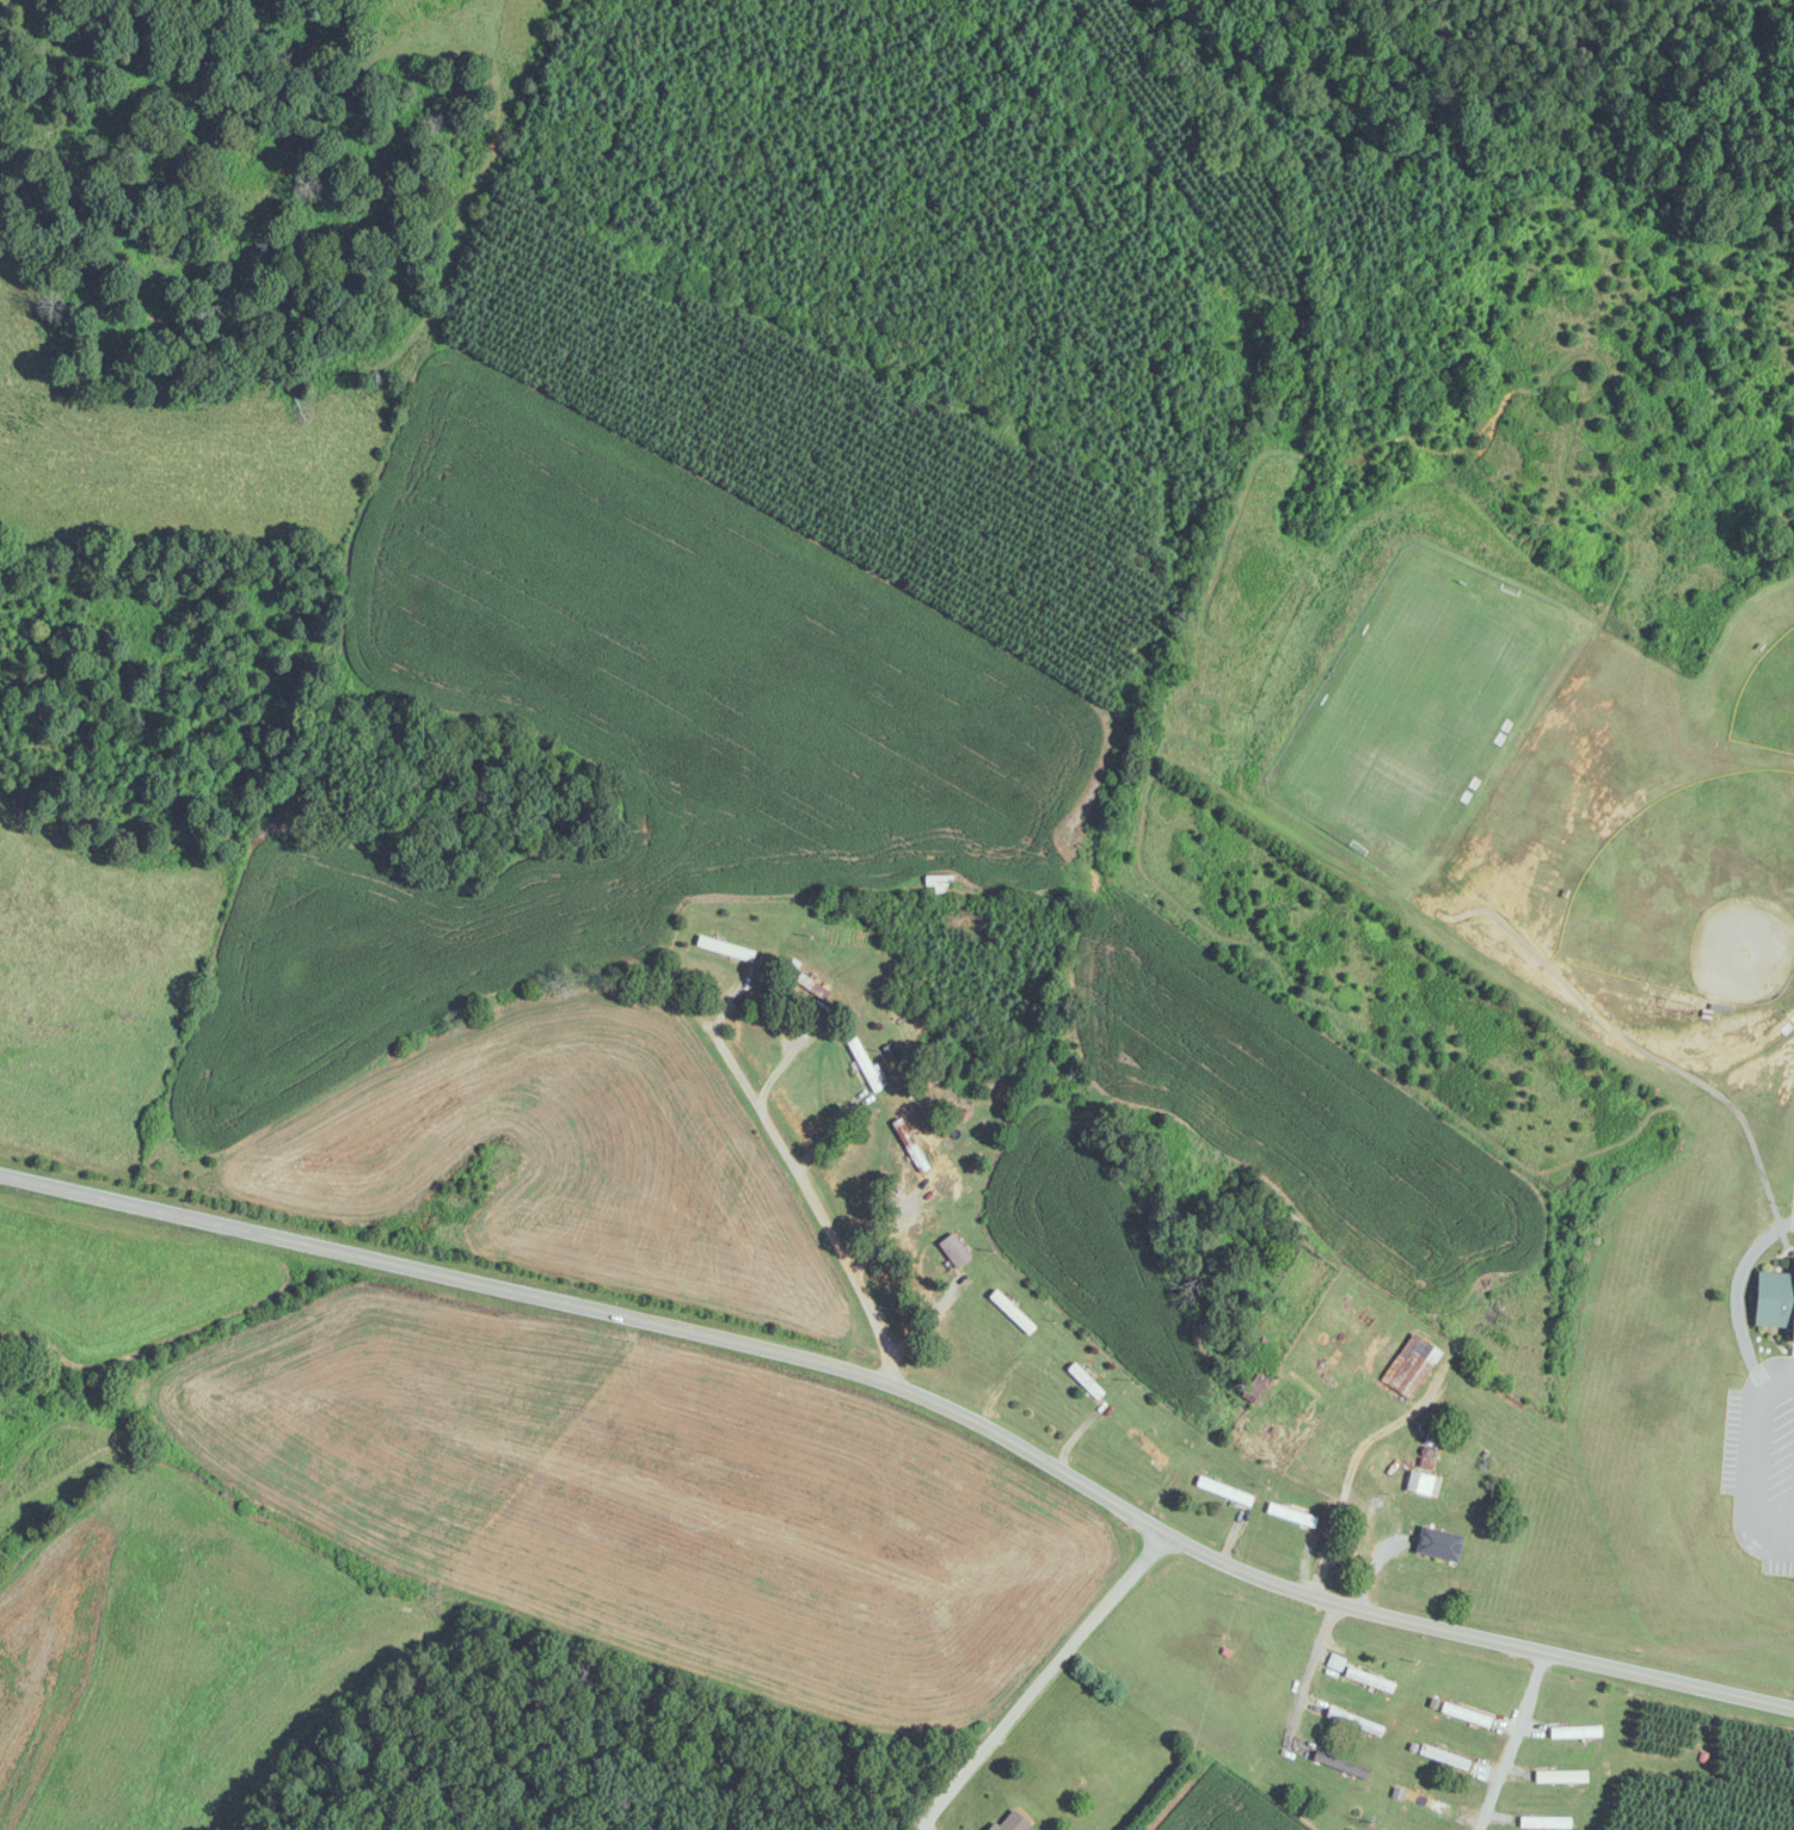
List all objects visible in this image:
building: (725, 948)
building: (866, 1067)
road: (741, 1077)
building: (910, 1146)
building: (954, 1251)
road: (847, 1266)
building: (1775, 1294)
road: (1737, 1297)
building: (1012, 1313)
building: (1411, 1367)
road: (920, 1368)
building: (1085, 1382)
building: (1254, 1389)
building: (1148, 1448)
road: (1752, 1457)
road: (1343, 1470)
building: (1423, 1485)
building: (1224, 1491)
building: (1291, 1516)
building: (1438, 1545)
road: (1302, 1674)
building: (1357, 1675)
road: (1027, 1676)
building: (1466, 1714)
building: (1354, 1721)
building: (1574, 1732)
road: (1507, 1742)
building: (1341, 1764)
building: (1429, 1803)
building: (1014, 1822)
building: (1543, 1822)

